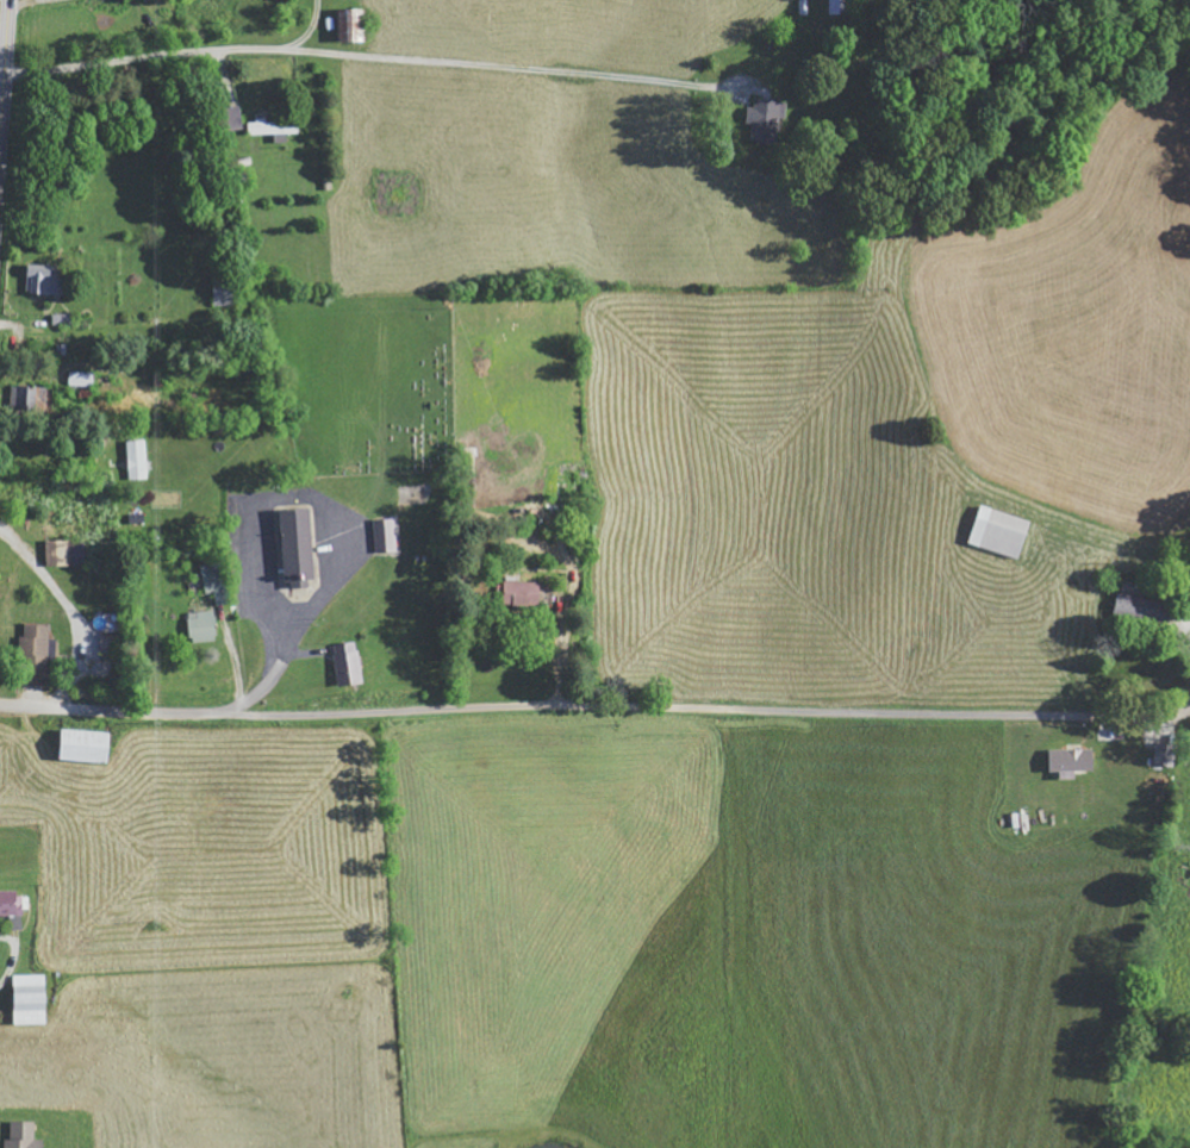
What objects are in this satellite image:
building: (836, 7)
building: (353, 26)
road: (5, 77)
building: (766, 120)
building: (273, 127)
building: (46, 279)
building: (225, 291)
building: (82, 379)
building: (30, 398)
road: (86, 414)
building: (138, 458)
building: (1003, 531)
building: (382, 535)
building: (300, 548)
building: (60, 553)
building: (216, 581)
building: (522, 593)
building: (1146, 609)
building: (204, 626)
building: (37, 645)
building: (349, 663)
road: (597, 706)
building: (88, 745)
building: (1167, 754)
building: (1073, 761)
building: (12, 903)
building: (32, 999)
building: (25, 1136)

